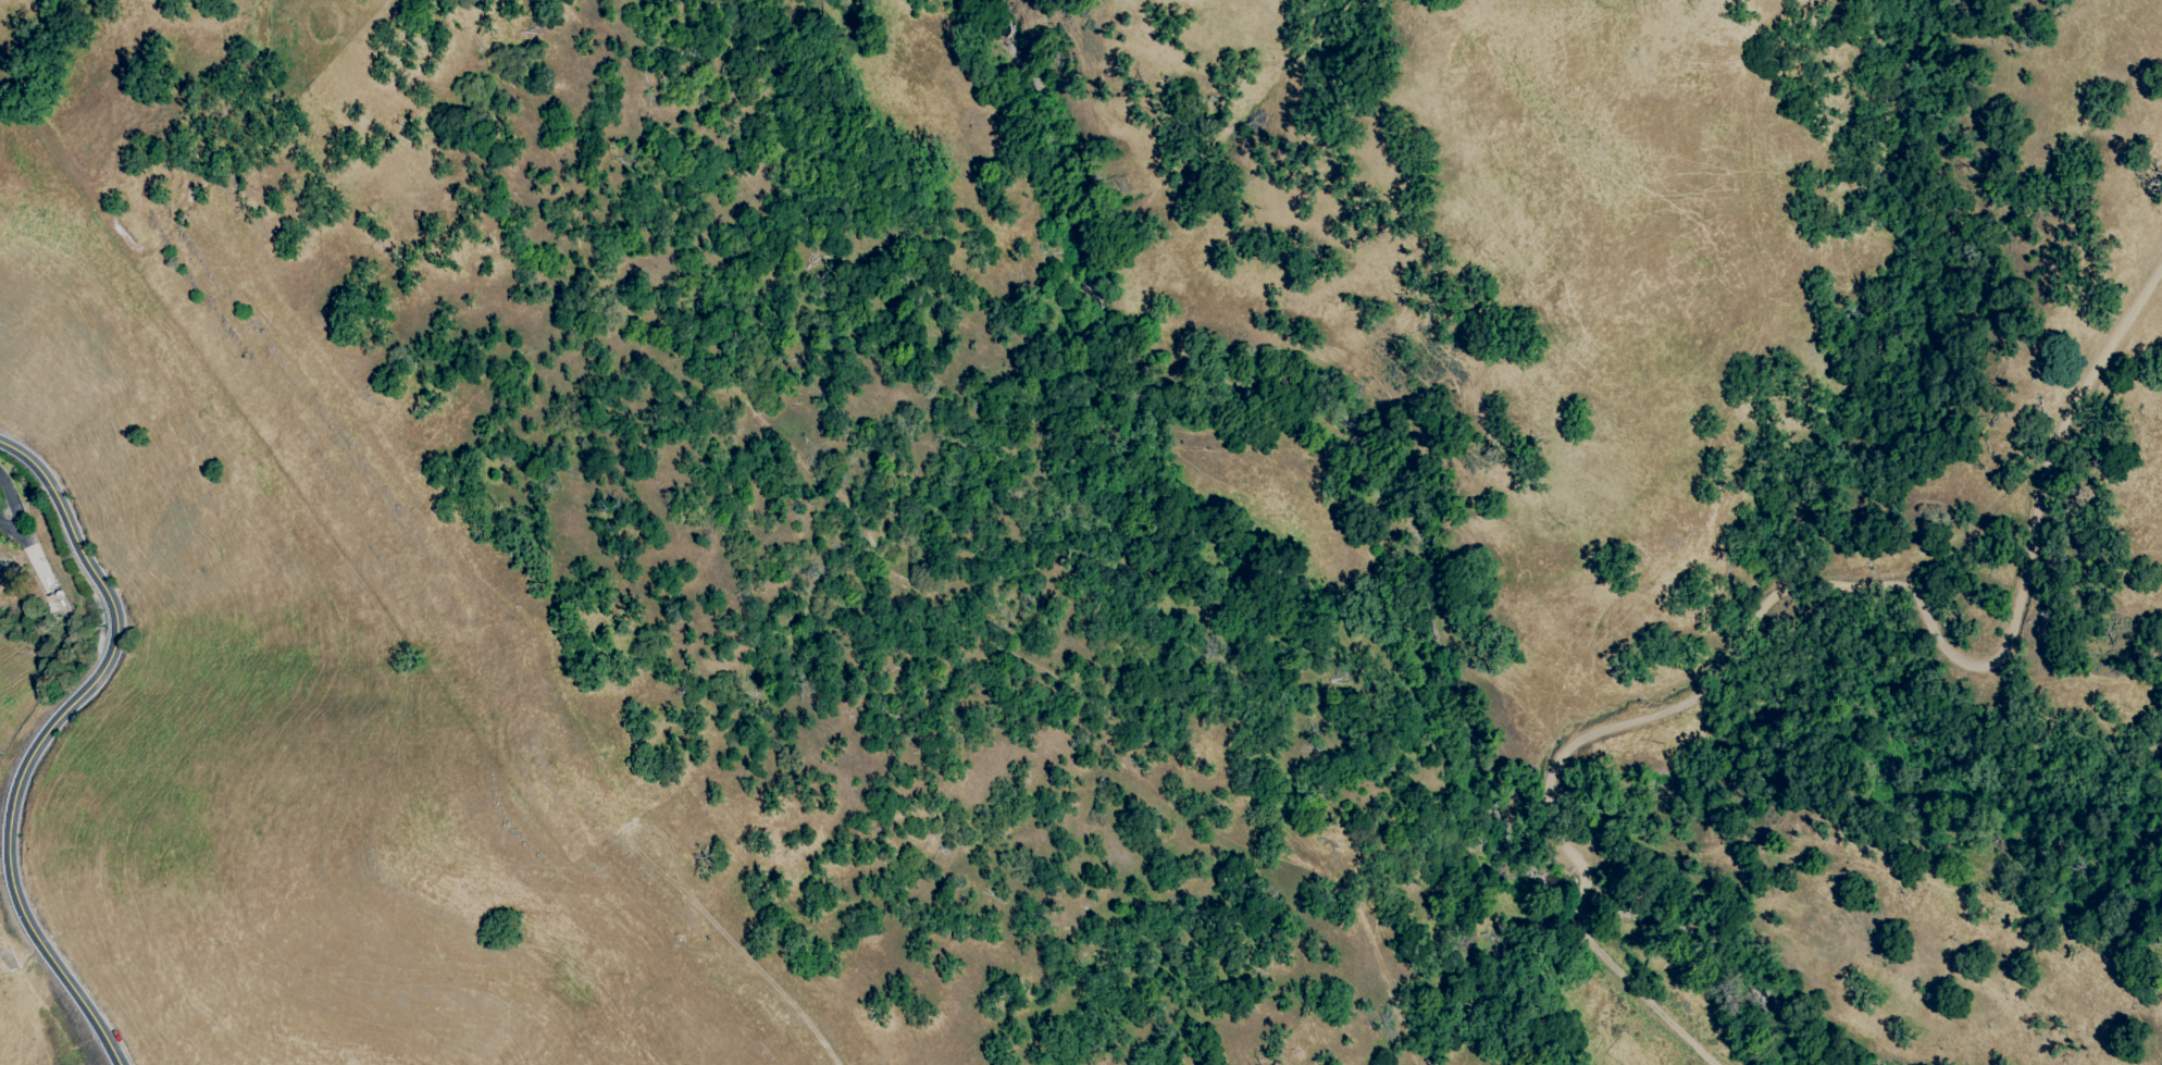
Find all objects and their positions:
road: (1792, 586)
road: (41, 738)

